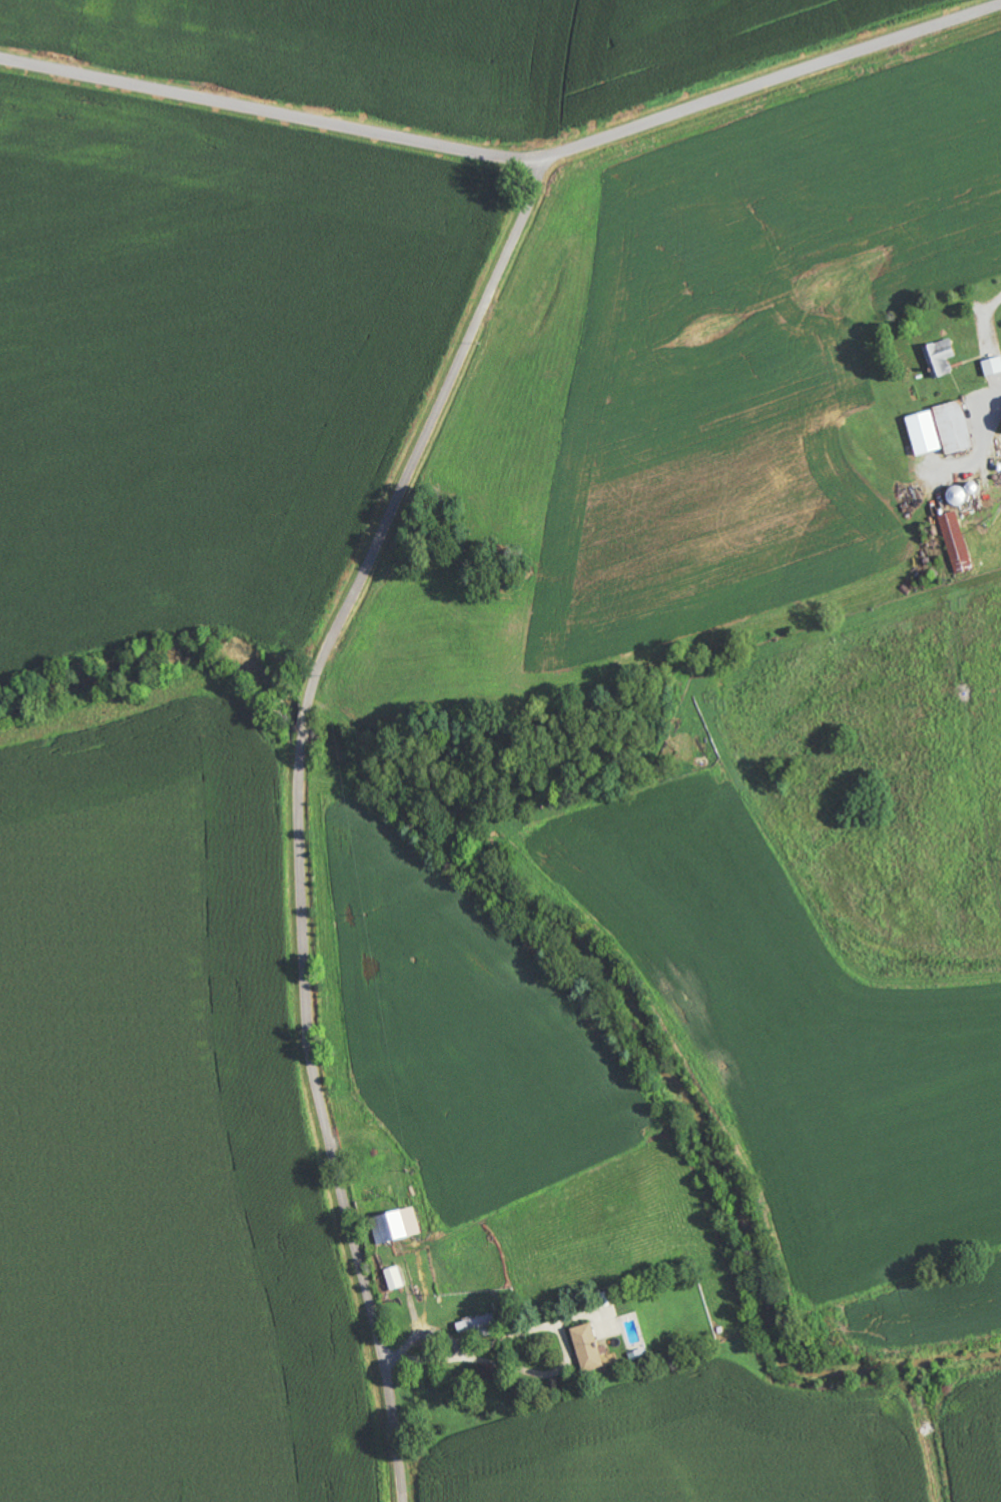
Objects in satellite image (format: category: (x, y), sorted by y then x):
road: (508, 159)
road: (973, 296)
building: (940, 358)
building: (991, 367)
building: (941, 430)
building: (964, 493)
building: (956, 543)
building: (785, 624)
road: (300, 808)
building: (396, 1227)
building: (393, 1279)
building: (478, 1323)
building: (588, 1348)

